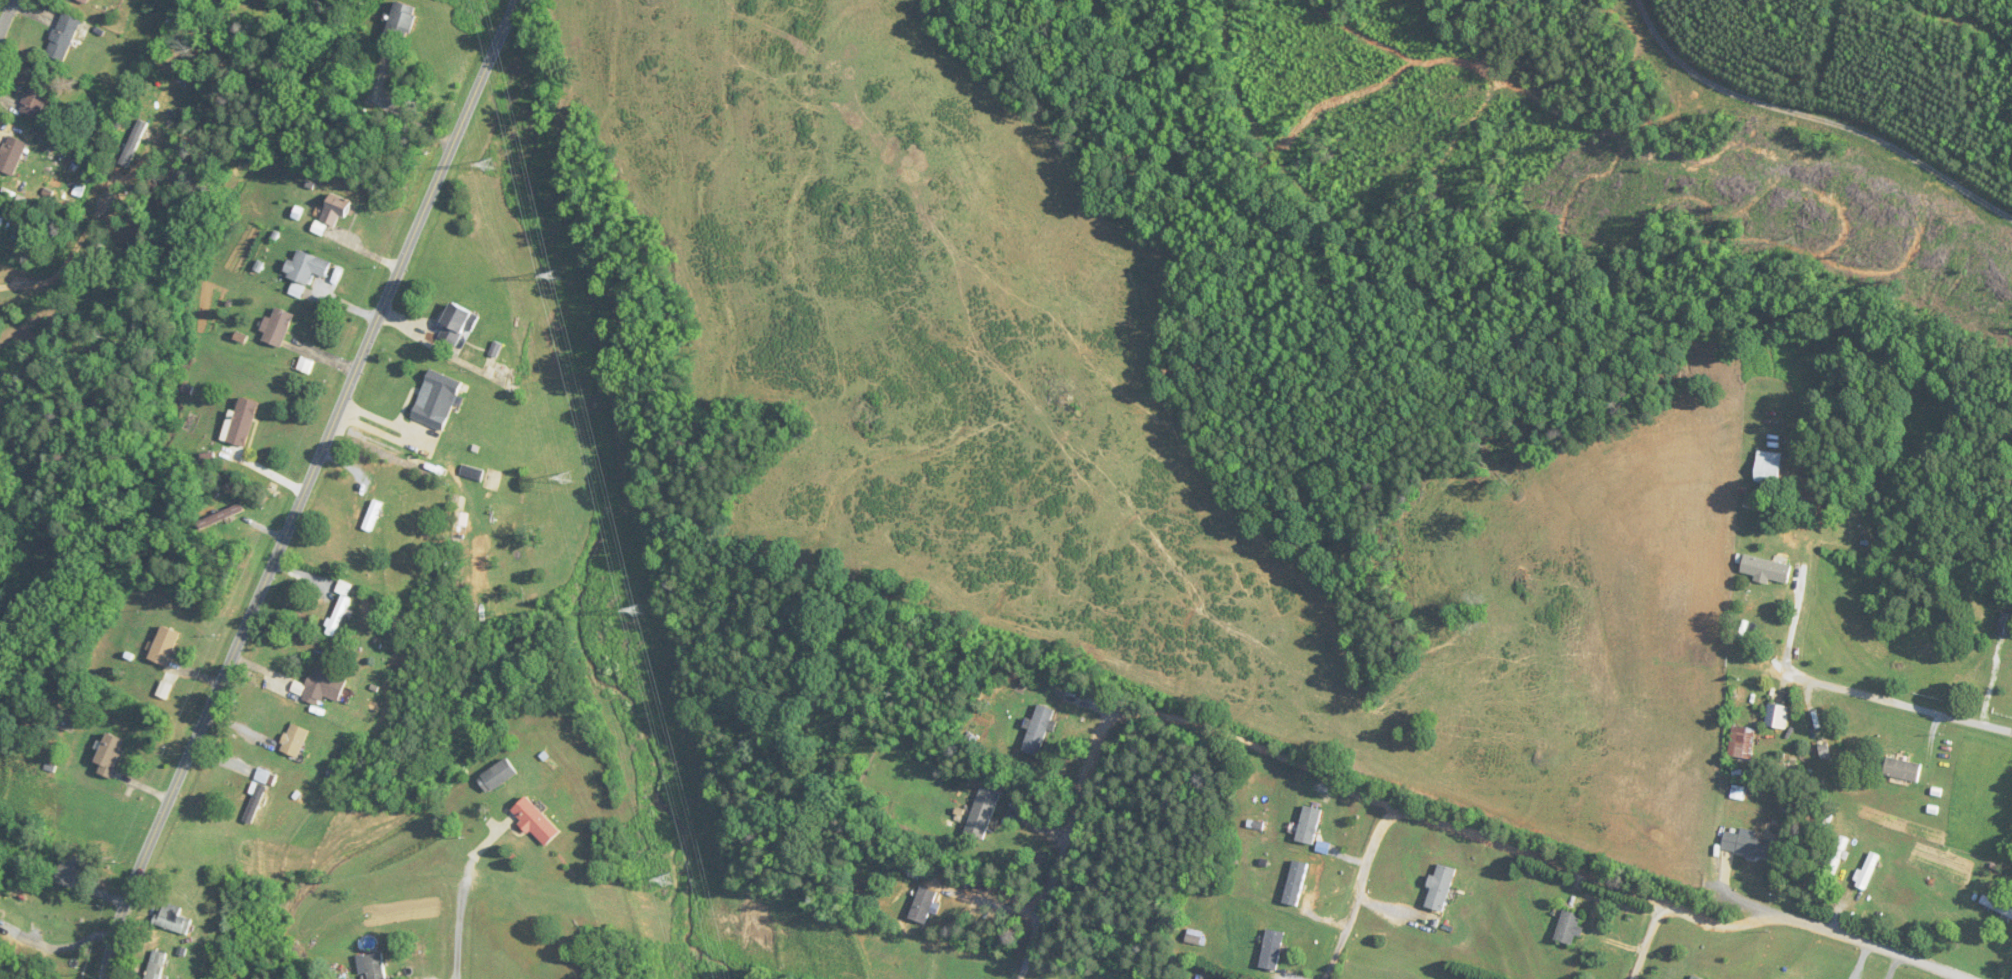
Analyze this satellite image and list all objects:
building: (86, 1)
road: (522, 4)
road: (8, 18)
building: (401, 24)
building: (64, 37)
building: (35, 100)
road: (1802, 129)
building: (12, 155)
power tower: (489, 164)
building: (58, 181)
building: (336, 211)
road: (70, 254)
building: (307, 268)
building: (458, 324)
building: (278, 327)
building: (497, 350)
building: (438, 400)
building: (17, 422)
building: (241, 423)
building: (1769, 467)
power tower: (567, 475)
building: (497, 481)
road: (305, 490)
building: (227, 515)
building: (373, 516)
building: (1767, 569)
building: (341, 607)
road: (1795, 621)
building: (2005, 626)
building: (165, 646)
building: (324, 686)
road: (1888, 699)
building: (1777, 716)
building: (1039, 731)
building: (295, 741)
building: (1742, 742)
building: (110, 754)
building: (1831, 754)
building: (1903, 769)
building: (336, 773)
building: (497, 776)
building: (257, 797)
building: (983, 813)
building: (535, 823)
building: (1309, 825)
road: (1532, 827)
building: (1746, 846)
building: (1837, 857)
building: (69, 870)
building: (1869, 871)
power tower: (667, 879)
road: (1369, 881)
building: (1295, 883)
building: (1441, 888)
building: (0, 897)
building: (923, 905)
building: (1996, 907)
building: (173, 919)
building: (1569, 928)
road: (1657, 928)
road: (463, 935)
building: (1194, 937)
road: (57, 947)
building: (1272, 950)
building: (157, 965)
building: (375, 967)
building: (1695, 977)

